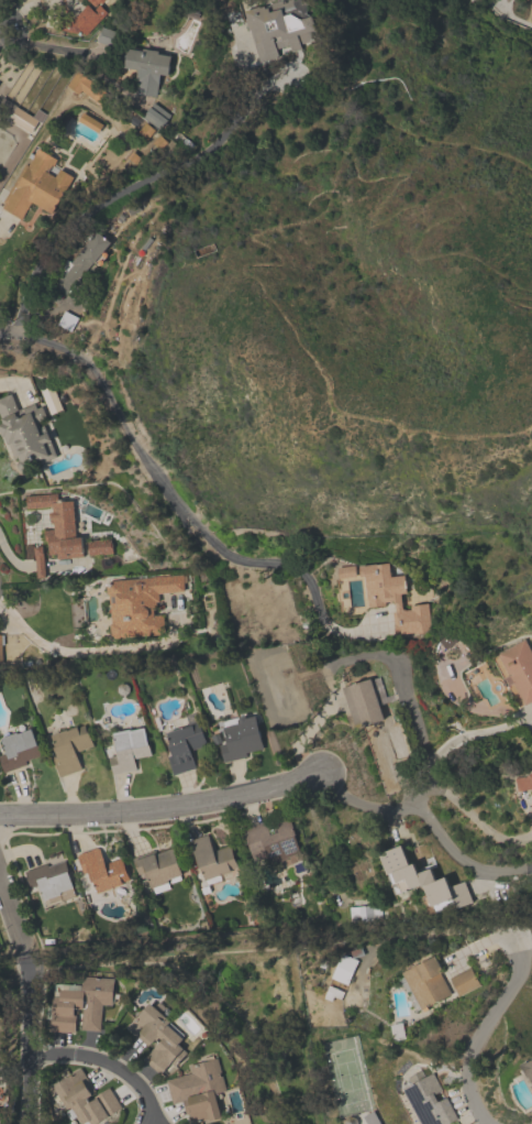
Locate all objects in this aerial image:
building: (95, 1)
road: (458, 4)
road: (465, 4)
road: (510, 13)
road: (3, 17)
building: (84, 19)
building: (279, 28)
road: (496, 32)
building: (104, 35)
road: (42, 46)
building: (144, 68)
building: (86, 85)
road: (359, 97)
building: (38, 114)
building: (154, 114)
building: (21, 119)
building: (88, 122)
building: (143, 130)
road: (350, 134)
building: (157, 141)
building: (132, 156)
building: (35, 185)
road: (448, 198)
road: (107, 201)
road: (3, 220)
building: (202, 252)
building: (79, 262)
road: (507, 299)
building: (67, 321)
road: (8, 329)
road: (291, 330)
building: (48, 397)
building: (23, 433)
road: (165, 485)
building: (57, 525)
building: (98, 546)
building: (37, 561)
building: (394, 600)
building: (138, 604)
road: (74, 651)
road: (352, 658)
building: (518, 667)
building: (363, 705)
building: (241, 738)
road: (455, 740)
building: (184, 746)
building: (69, 747)
building: (19, 749)
building: (129, 750)
building: (524, 782)
road: (531, 804)
road: (160, 809)
road: (428, 819)
road: (475, 819)
building: (271, 842)
building: (211, 859)
building: (157, 869)
building: (102, 871)
building: (51, 880)
building: (421, 882)
road: (14, 918)
building: (344, 969)
building: (434, 983)
building: (81, 1006)
road: (481, 1030)
building: (157, 1039)
road: (29, 1040)
road: (107, 1063)
building: (529, 1070)
building: (199, 1091)
building: (84, 1100)
building: (429, 1101)

